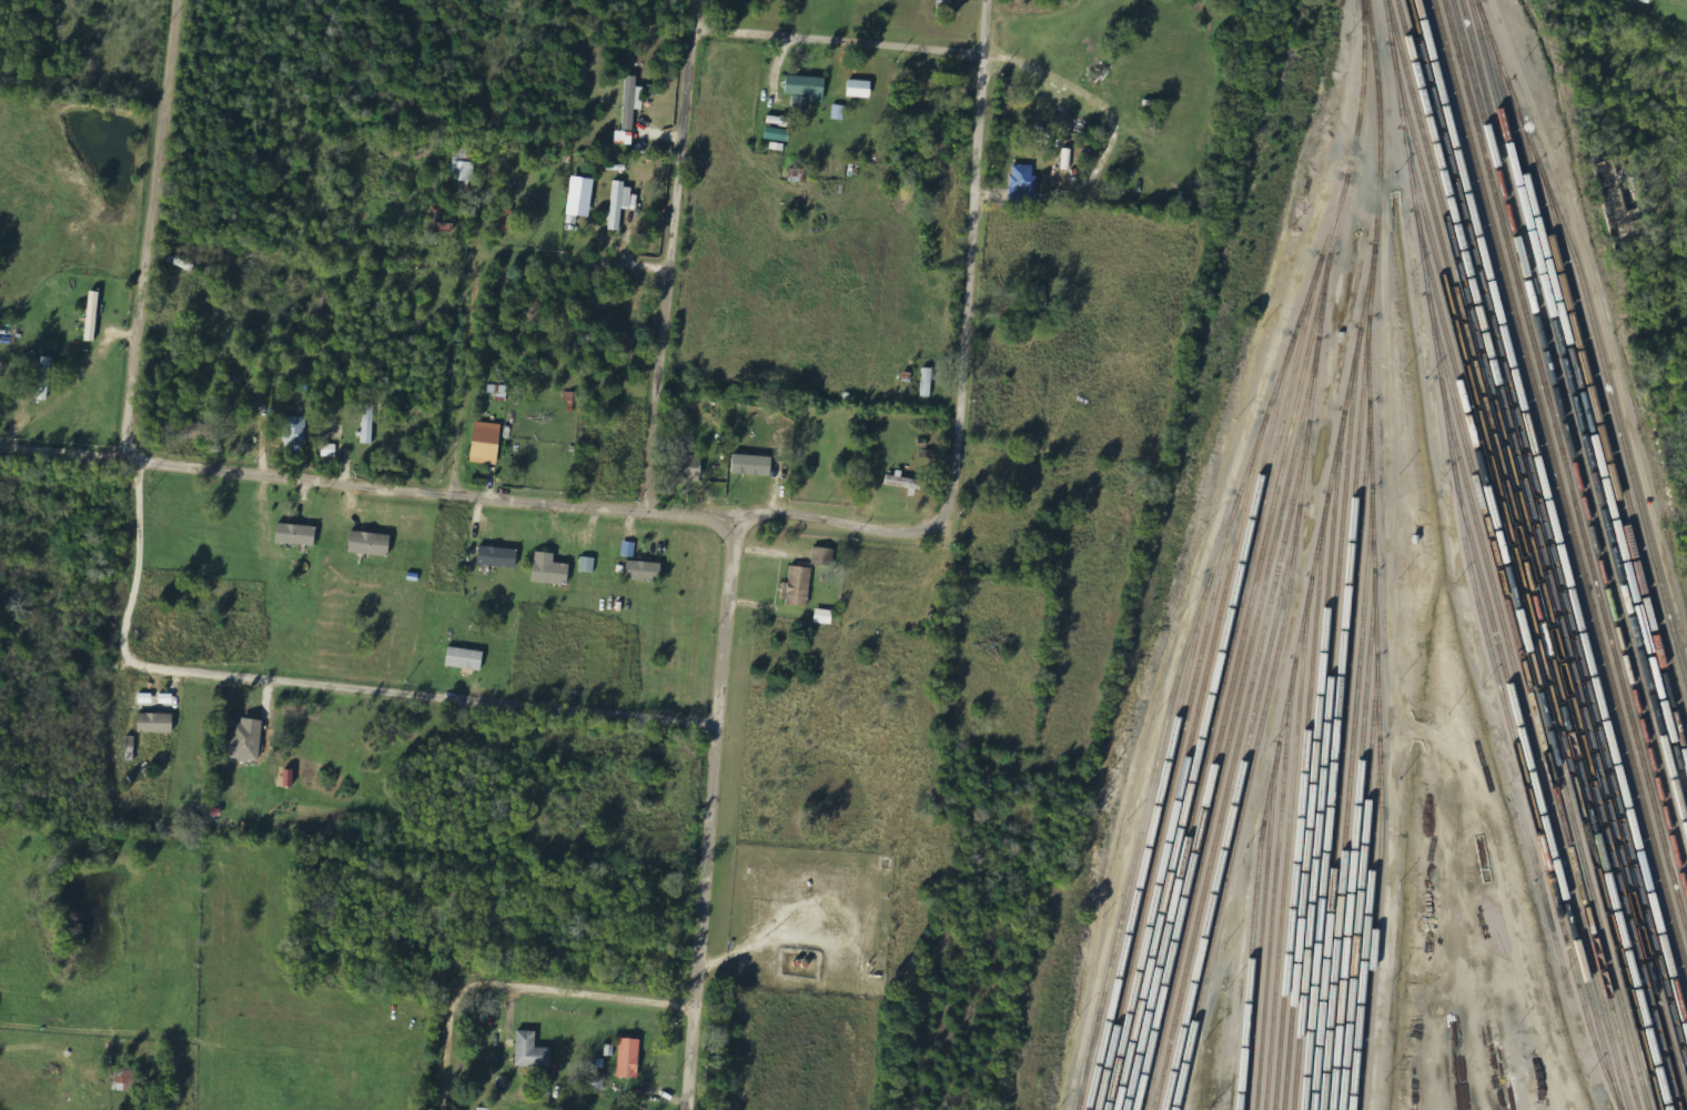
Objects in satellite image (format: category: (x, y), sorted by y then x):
road: (838, 41)
building: (808, 88)
building: (860, 89)
building: (632, 111)
building: (463, 167)
building: (622, 203)
building: (1624, 220)
building: (441, 222)
road: (142, 233)
road: (670, 254)
road: (572, 263)
road: (967, 279)
building: (94, 316)
road: (459, 377)
building: (46, 379)
building: (928, 383)
railway: (1588, 389)
railway: (1582, 396)
railway: (1604, 408)
railway: (1578, 413)
building: (370, 425)
railway: (1618, 425)
building: (296, 431)
railway: (1574, 431)
building: (199, 432)
building: (487, 443)
railway: (1568, 447)
building: (754, 465)
railway: (1565, 465)
building: (690, 467)
building: (906, 483)
railway: (1560, 483)
road: (453, 496)
railway: (1552, 518)
railway: (1547, 534)
building: (297, 535)
building: (371, 544)
railway: (1216, 552)
railway: (1314, 554)
railway: (1533, 555)
railway: (1542, 555)
building: (822, 556)
building: (498, 557)
railway: (1466, 562)
building: (588, 565)
building: (550, 569)
building: (645, 571)
building: (799, 587)
railway: (1531, 589)
building: (825, 617)
railway: (1532, 628)
railway: (1238, 654)
building: (466, 659)
railway: (1532, 667)
railway: (1339, 670)
railway: (1238, 690)
railway: (1219, 692)
road: (430, 699)
railway: (1533, 709)
railway: (1344, 718)
building: (158, 723)
railway: (1324, 726)
railway: (1201, 730)
railway: (1238, 731)
building: (249, 739)
railway: (1535, 751)
railway: (1351, 756)
railway: (1313, 766)
railway: (1239, 773)
railway: (1182, 774)
railway: (1536, 791)
railway: (1356, 800)
railway: (1300, 808)
railway: (1163, 811)
railway: (1240, 813)
road: (707, 816)
railway: (1362, 841)
railway: (1145, 850)
railway: (1286, 851)
railway: (1368, 886)
railway: (1273, 891)
railway: (1373, 928)
railway: (1260, 937)
road: (565, 992)
building: (533, 1051)
road: (443, 1056)
building: (630, 1058)
building: (125, 1078)

